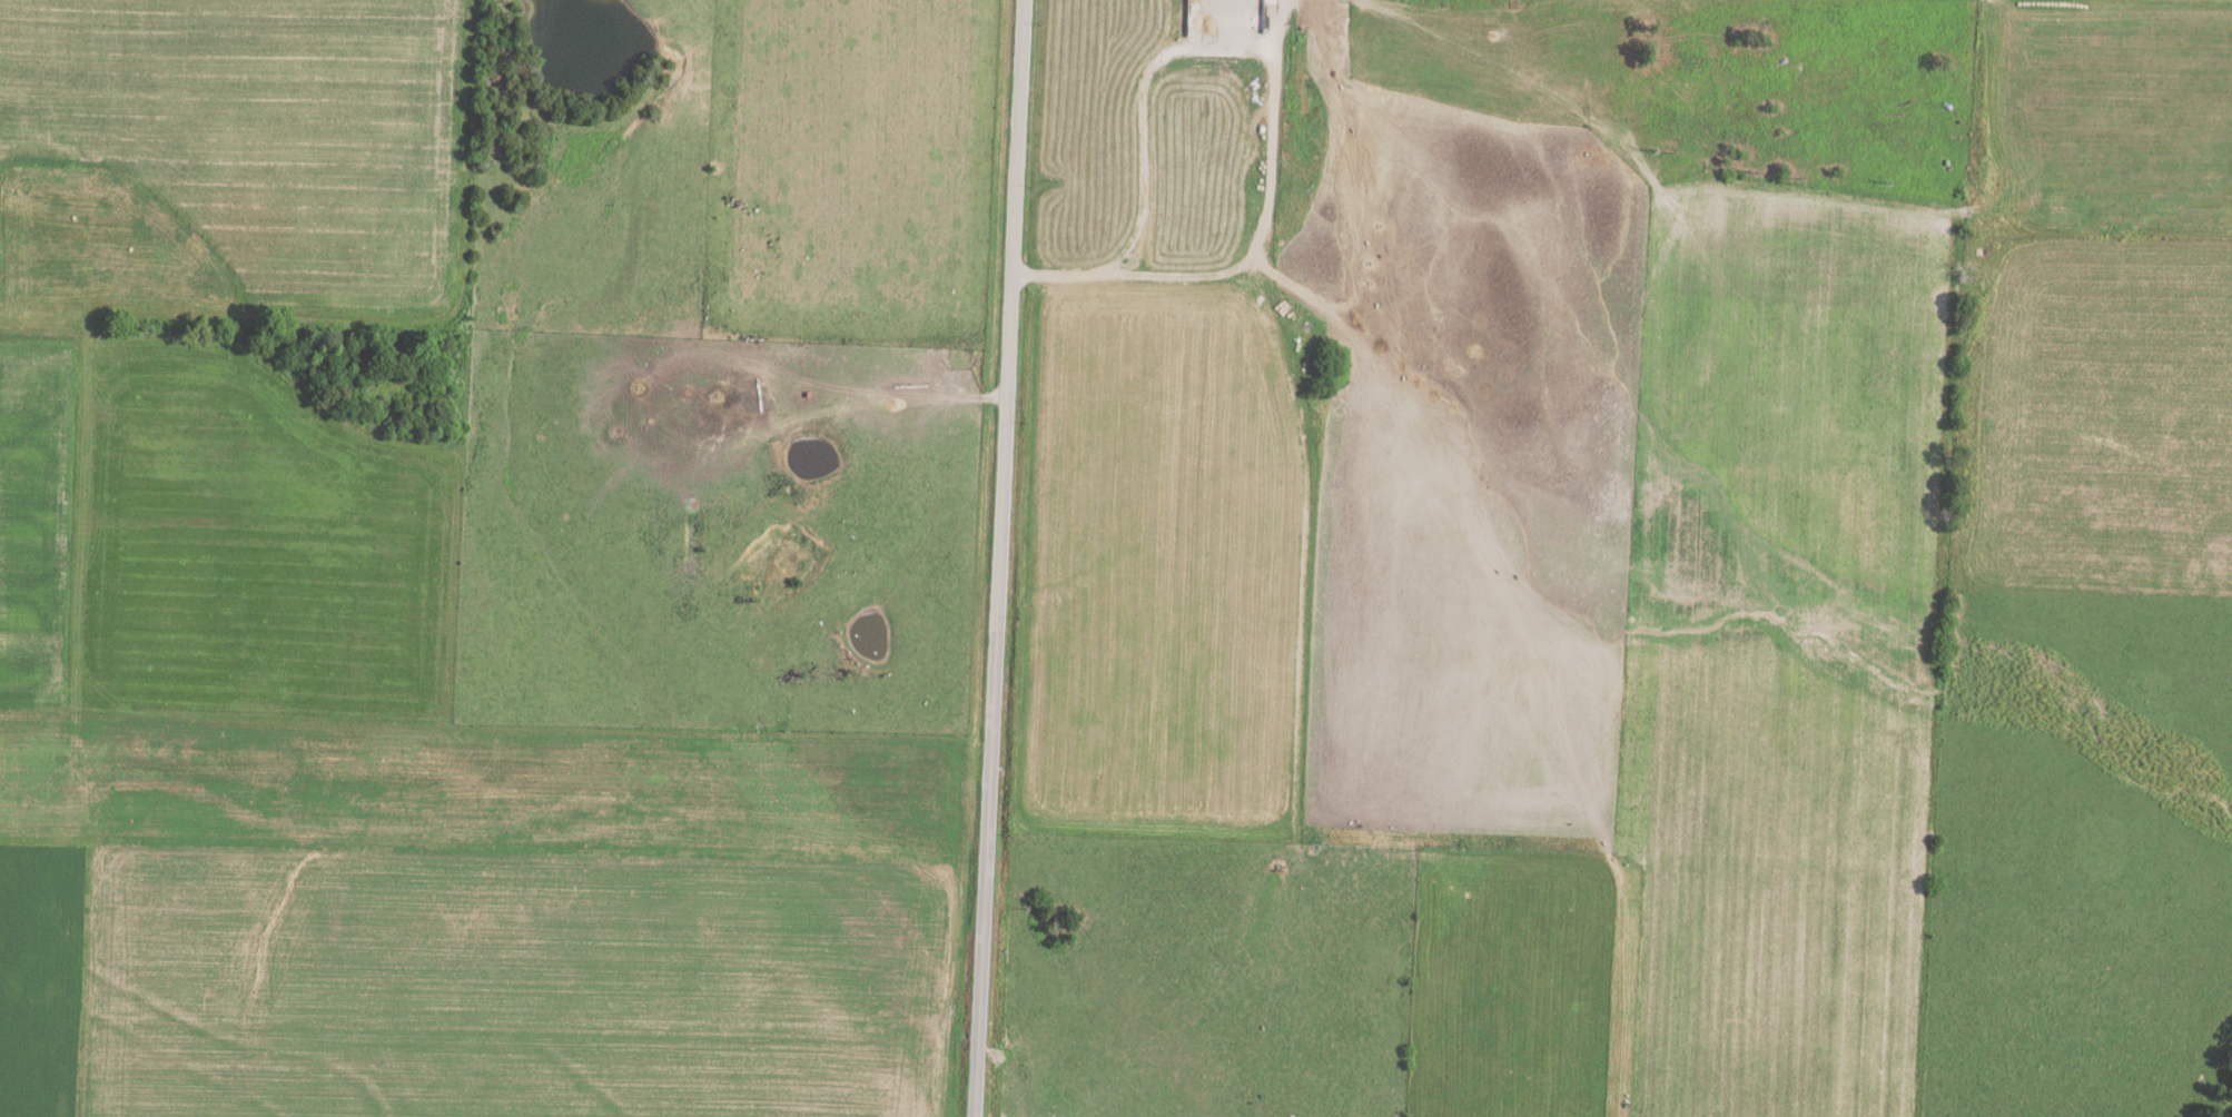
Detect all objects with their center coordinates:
road: (1258, 258)
road: (999, 557)

